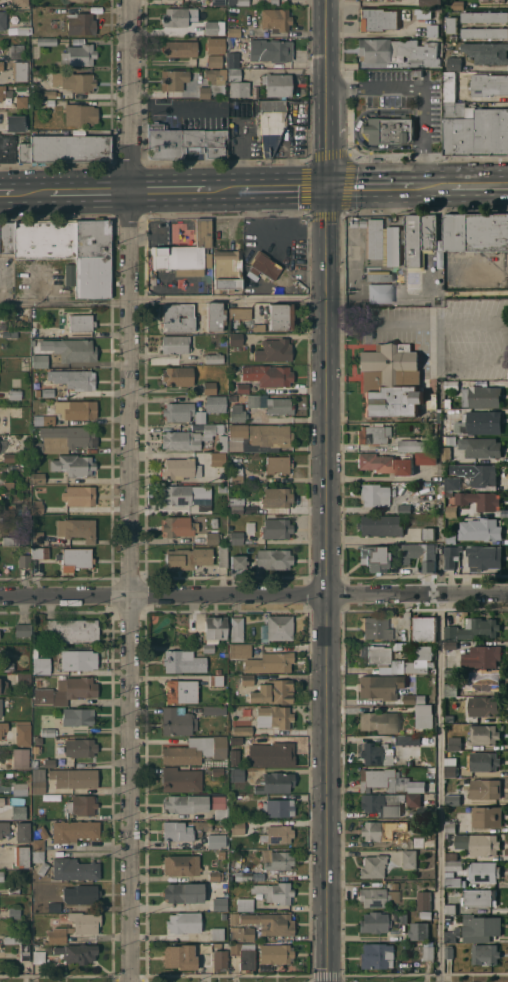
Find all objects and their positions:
building: (83, 0)
building: (484, 0)
building: (500, 0)
building: (18, 2)
building: (218, 2)
building: (238, 2)
building: (273, 2)
building: (430, 2)
building: (456, 4)
building: (423, 13)
building: (178, 16)
building: (485, 16)
building: (275, 19)
building: (378, 19)
building: (3, 20)
building: (81, 23)
building: (452, 24)
building: (214, 27)
building: (23, 29)
building: (432, 30)
building: (233, 31)
building: (484, 32)
building: (46, 40)
road: (326, 40)
building: (215, 45)
building: (180, 48)
building: (271, 49)
building: (17, 50)
building: (397, 51)
building: (487, 52)
building: (79, 54)
building: (233, 59)
building: (214, 60)
building: (453, 63)
building: (1, 65)
building: (21, 71)
building: (417, 72)
building: (234, 74)
building: (173, 79)
building: (216, 79)
building: (73, 81)
building: (277, 84)
building: (489, 84)
road: (422, 87)
building: (450, 87)
building: (239, 88)
parking lot: (388, 88)
building: (2, 91)
building: (204, 92)
building: (48, 94)
building: (21, 101)
building: (50, 101)
road: (171, 109)
parking lot: (430, 111)
building: (80, 114)
building: (15, 123)
building: (271, 124)
building: (157, 126)
building: (179, 128)
road: (357, 129)
building: (388, 129)
building: (476, 130)
road: (326, 133)
building: (185, 143)
building: (7, 148)
building: (69, 148)
building: (24, 151)
road: (469, 184)
road: (379, 185)
traffic signals: (328, 186)
road: (272, 187)
road: (172, 188)
road: (79, 190)
road: (15, 191)
road: (253, 213)
building: (353, 222)
building: (429, 232)
building: (476, 232)
building: (7, 237)
building: (45, 239)
building: (383, 241)
building: (414, 241)
building: (184, 252)
building: (93, 257)
building: (264, 265)
building: (227, 269)
building: (70, 274)
building: (378, 275)
building: (379, 293)
road: (164, 302)
building: (215, 316)
building: (237, 316)
building: (280, 316)
building: (177, 317)
building: (80, 322)
road: (418, 322)
building: (258, 327)
parking lot: (435, 331)
building: (52, 333)
building: (235, 339)
building: (33, 342)
building: (175, 343)
building: (71, 349)
building: (274, 350)
building: (214, 357)
building: (40, 360)
road: (472, 360)
building: (267, 375)
building: (178, 376)
building: (73, 378)
building: (435, 378)
building: (391, 380)
building: (452, 385)
building: (209, 387)
building: (242, 388)
building: (47, 392)
building: (14, 393)
building: (482, 396)
building: (233, 398)
building: (253, 400)
building: (448, 402)
building: (215, 403)
building: (279, 406)
building: (76, 409)
building: (178, 411)
building: (237, 413)
building: (200, 417)
building: (48, 420)
building: (38, 422)
building: (480, 422)
building: (373, 434)
building: (260, 435)
building: (188, 437)
building: (64, 438)
building: (450, 440)
building: (411, 445)
building: (432, 447)
building: (481, 447)
building: (446, 453)
building: (9, 457)
building: (425, 457)
building: (218, 459)
building: (385, 463)
building: (73, 464)
building: (277, 464)
building: (23, 467)
building: (180, 468)
building: (236, 474)
building: (484, 475)
building: (38, 477)
building: (453, 483)
building: (9, 484)
building: (221, 488)
road: (130, 490)
building: (374, 494)
building: (79, 495)
building: (178, 495)
building: (277, 497)
building: (478, 500)
building: (236, 504)
building: (424, 504)
building: (37, 507)
building: (211, 507)
building: (8, 511)
building: (451, 512)
building: (380, 525)
building: (178, 526)
building: (250, 526)
building: (77, 528)
building: (276, 528)
building: (480, 529)
building: (428, 533)
building: (37, 537)
building: (236, 537)
building: (212, 538)
building: (10, 540)
building: (40, 552)
building: (417, 554)
building: (451, 555)
building: (222, 556)
building: (484, 557)
building: (74, 558)
building: (186, 558)
building: (274, 558)
building: (374, 558)
building: (24, 560)
building: (238, 561)
road: (328, 584)
road: (254, 594)
road: (254, 610)
building: (215, 627)
building: (277, 627)
building: (374, 627)
building: (425, 628)
building: (479, 628)
building: (22, 629)
building: (72, 629)
building: (236, 629)
building: (451, 633)
building: (401, 645)
building: (451, 645)
building: (207, 647)
building: (240, 650)
building: (424, 652)
building: (375, 655)
building: (482, 656)
building: (78, 659)
building: (179, 661)
building: (269, 662)
building: (40, 663)
building: (7, 666)
building: (406, 667)
building: (218, 671)
building: (23, 679)
building: (244, 679)
building: (484, 679)
building: (216, 680)
building: (41, 682)
building: (452, 682)
building: (3, 686)
building: (380, 686)
building: (66, 690)
building: (182, 691)
building: (273, 692)
building: (409, 698)
building: (484, 706)
building: (1, 707)
building: (455, 709)
building: (214, 710)
building: (77, 716)
building: (274, 716)
building: (424, 716)
building: (177, 721)
building: (379, 721)
building: (3, 728)
building: (242, 730)
building: (22, 732)
building: (47, 732)
building: (483, 734)
building: (235, 740)
building: (407, 740)
building: (455, 745)
building: (79, 747)
building: (195, 750)
building: (6, 751)
building: (376, 753)
building: (271, 754)
building: (20, 757)
building: (484, 761)
building: (43, 762)
building: (217, 771)
building: (451, 771)
building: (236, 774)
building: (73, 777)
building: (381, 779)
building: (38, 780)
building: (181, 780)
building: (275, 782)
building: (418, 786)
road: (440, 787)
building: (19, 788)
building: (485, 788)
building: (453, 799)
building: (413, 800)
building: (2, 801)
building: (383, 803)
building: (81, 804)
building: (198, 804)
building: (277, 807)
building: (19, 812)
building: (486, 816)
building: (451, 826)
building: (4, 827)
building: (237, 827)
building: (184, 829)
building: (381, 829)
building: (73, 830)
building: (22, 832)
building: (277, 834)
building: (219, 838)
building: (39, 839)
building: (412, 843)
building: (478, 843)
building: (220, 854)
building: (21, 856)
building: (410, 858)
building: (276, 859)
building: (39, 861)
building: (181, 864)
building: (452, 865)
building: (373, 866)
building: (74, 869)
building: (485, 871)
building: (215, 875)
building: (242, 875)
building: (1, 876)
building: (453, 881)
building: (14, 889)
building: (456, 890)
building: (274, 891)
building: (184, 892)
building: (80, 894)
building: (378, 896)
building: (479, 897)
building: (424, 900)
building: (219, 903)
building: (245, 904)
building: (54, 906)
building: (451, 909)
building: (14, 912)
building: (425, 914)
building: (402, 917)
building: (233, 918)
building: (448, 918)
building: (85, 922)
building: (184, 922)
building: (271, 922)
building: (374, 922)
building: (480, 928)
building: (70, 929)
building: (419, 931)
building: (217, 933)
building: (241, 933)
building: (452, 934)
building: (56, 935)
building: (12, 939)
building: (217, 945)
building: (24, 951)
building: (449, 951)
building: (77, 952)
building: (275, 953)
building: (428, 953)
building: (485, 954)
building: (376, 955)
building: (38, 956)
building: (180, 956)
building: (243, 956)
building: (219, 959)

